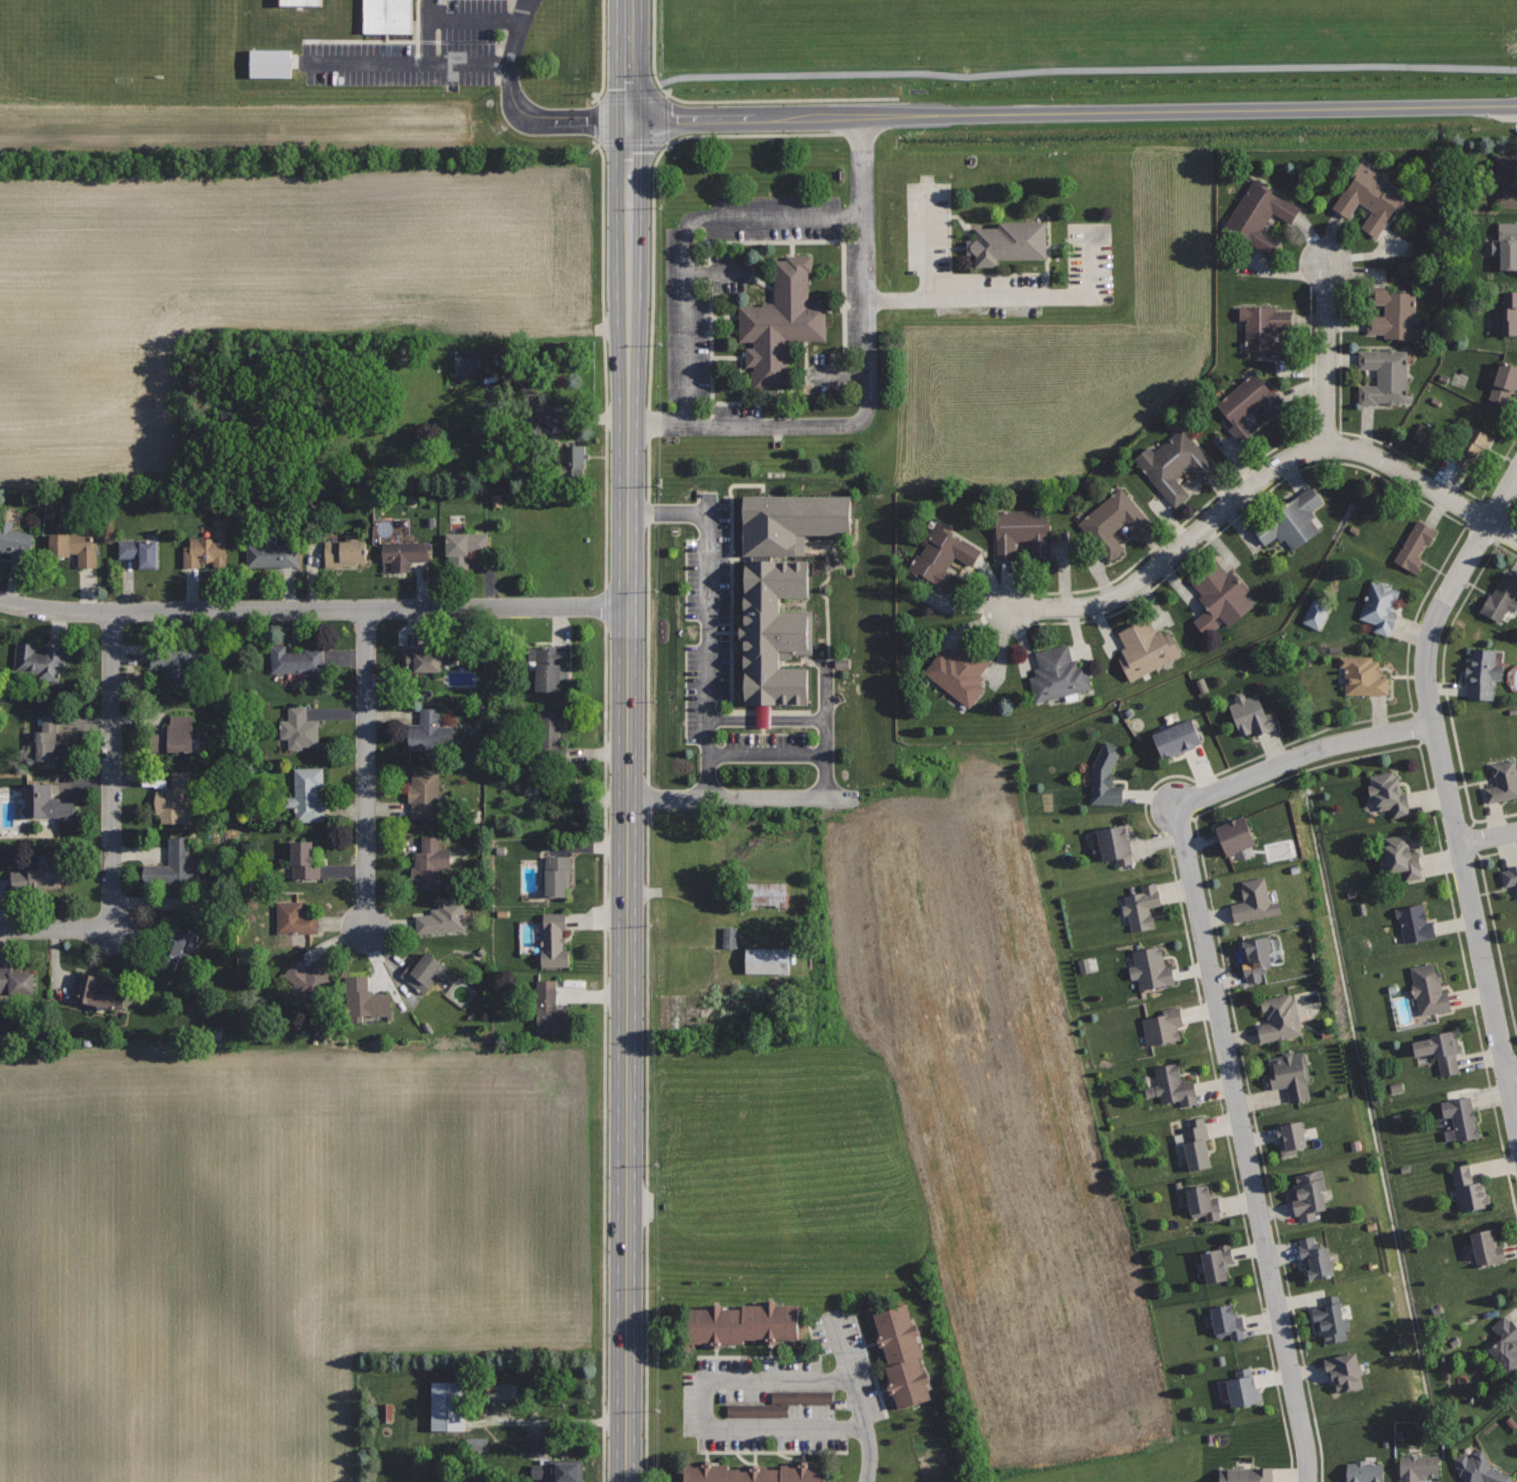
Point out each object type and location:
parking lot: (541, 0)
building: (293, 2)
building: (384, 16)
road: (476, 21)
road: (428, 33)
road: (628, 59)
parking lot: (452, 60)
building: (267, 64)
road: (406, 67)
road: (1086, 70)
road: (731, 101)
road: (518, 107)
road: (1072, 112)
building: (1506, 179)
building: (1370, 196)
building: (1260, 214)
road: (687, 235)
road: (929, 237)
building: (1007, 242)
building: (1506, 246)
parking lot: (1088, 247)
road: (1016, 296)
parking lot: (772, 313)
building: (1393, 313)
building: (1508, 314)
building: (782, 319)
building: (1267, 331)
road: (1326, 355)
building: (462, 361)
building: (1384, 376)
building: (1504, 382)
road: (868, 385)
building: (1249, 407)
road: (1381, 442)
building: (1473, 448)
building: (573, 460)
building: (1175, 464)
road: (1259, 481)
road: (1229, 482)
road: (1513, 516)
building: (1291, 519)
building: (1114, 523)
building: (1022, 530)
building: (15, 541)
building: (75, 546)
building: (1414, 546)
building: (209, 547)
building: (465, 548)
building: (345, 550)
building: (140, 551)
building: (405, 553)
building: (272, 555)
building: (944, 557)
building: (1222, 592)
building: (1501, 596)
building: (1380, 606)
road: (313, 609)
road: (711, 613)
building: (1314, 614)
building: (763, 639)
parking lot: (715, 641)
building: (1147, 647)
building: (179, 655)
building: (38, 660)
building: (296, 660)
building: (424, 660)
building: (546, 665)
building: (959, 671)
building: (1482, 673)
building: (1059, 675)
building: (1364, 675)
road: (1444, 687)
building: (1251, 715)
road: (768, 722)
road: (648, 723)
building: (299, 727)
building: (552, 727)
road: (825, 729)
building: (430, 731)
building: (1177, 737)
building: (53, 738)
building: (173, 738)
road: (1269, 751)
road: (768, 758)
road: (366, 768)
road: (113, 769)
building: (1106, 774)
building: (540, 779)
building: (1503, 781)
road: (1448, 790)
building: (425, 792)
building: (308, 793)
building: (1388, 793)
building: (175, 799)
road: (742, 799)
road: (627, 800)
building: (48, 804)
road: (1213, 808)
building: (1235, 835)
road: (1488, 837)
building: (1115, 845)
building: (1402, 855)
building: (304, 860)
building: (430, 862)
building: (176, 865)
building: (557, 874)
building: (1510, 874)
building: (41, 878)
building: (764, 895)
building: (1254, 901)
building: (1142, 906)
building: (295, 918)
building: (443, 918)
building: (1415, 923)
road: (56, 928)
road: (1494, 928)
building: (728, 938)
building: (554, 939)
building: (178, 942)
building: (1256, 956)
building: (762, 961)
building: (1082, 965)
building: (1151, 968)
building: (425, 971)
building: (16, 979)
building: (308, 981)
building: (1429, 990)
building: (94, 991)
building: (365, 1001)
building: (550, 1008)
road: (1218, 1013)
building: (1280, 1017)
building: (1163, 1026)
building: (1440, 1050)
road: (1512, 1074)
building: (1290, 1075)
building: (1173, 1085)
building: (1462, 1116)
building: (1290, 1137)
building: (1196, 1143)
building: (1470, 1189)
building: (1309, 1194)
building: (1203, 1202)
building: (1487, 1247)
building: (1315, 1258)
building: (1217, 1261)
building: (1330, 1318)
building: (1227, 1321)
building: (744, 1322)
building: (1505, 1343)
building: (902, 1355)
building: (1344, 1371)
building: (1243, 1387)
parking lot: (781, 1395)
road: (856, 1398)
building: (779, 1403)
building: (440, 1405)
road: (710, 1408)
building: (473, 1445)
building: (1417, 1467)
building: (1480, 1468)
building: (559, 1470)
building: (1365, 1472)
building: (1247, 1474)
building: (757, 1475)

